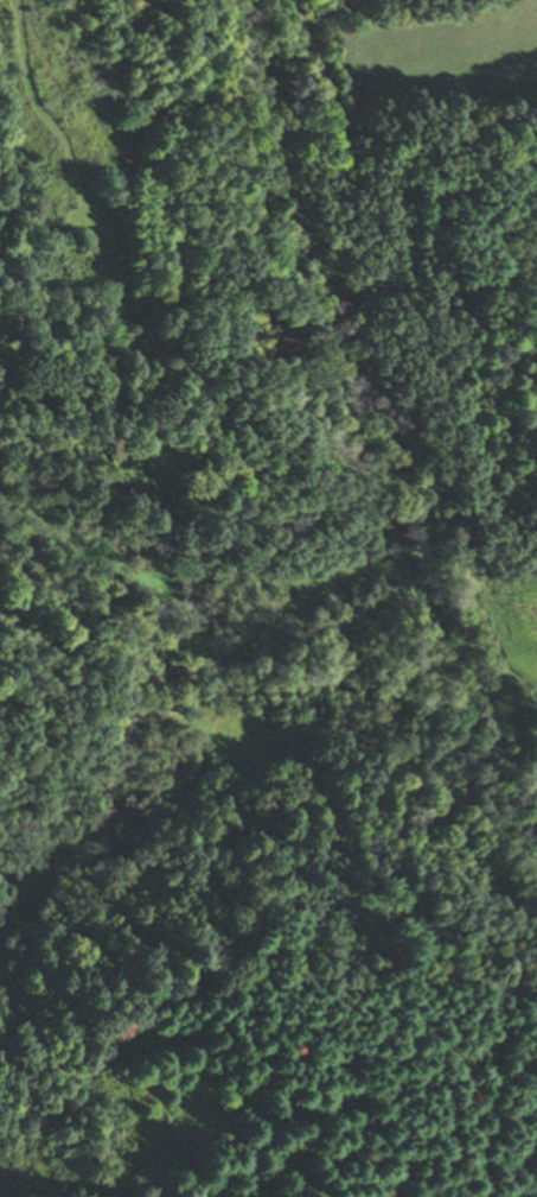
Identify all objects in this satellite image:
crop: (504, 619)

